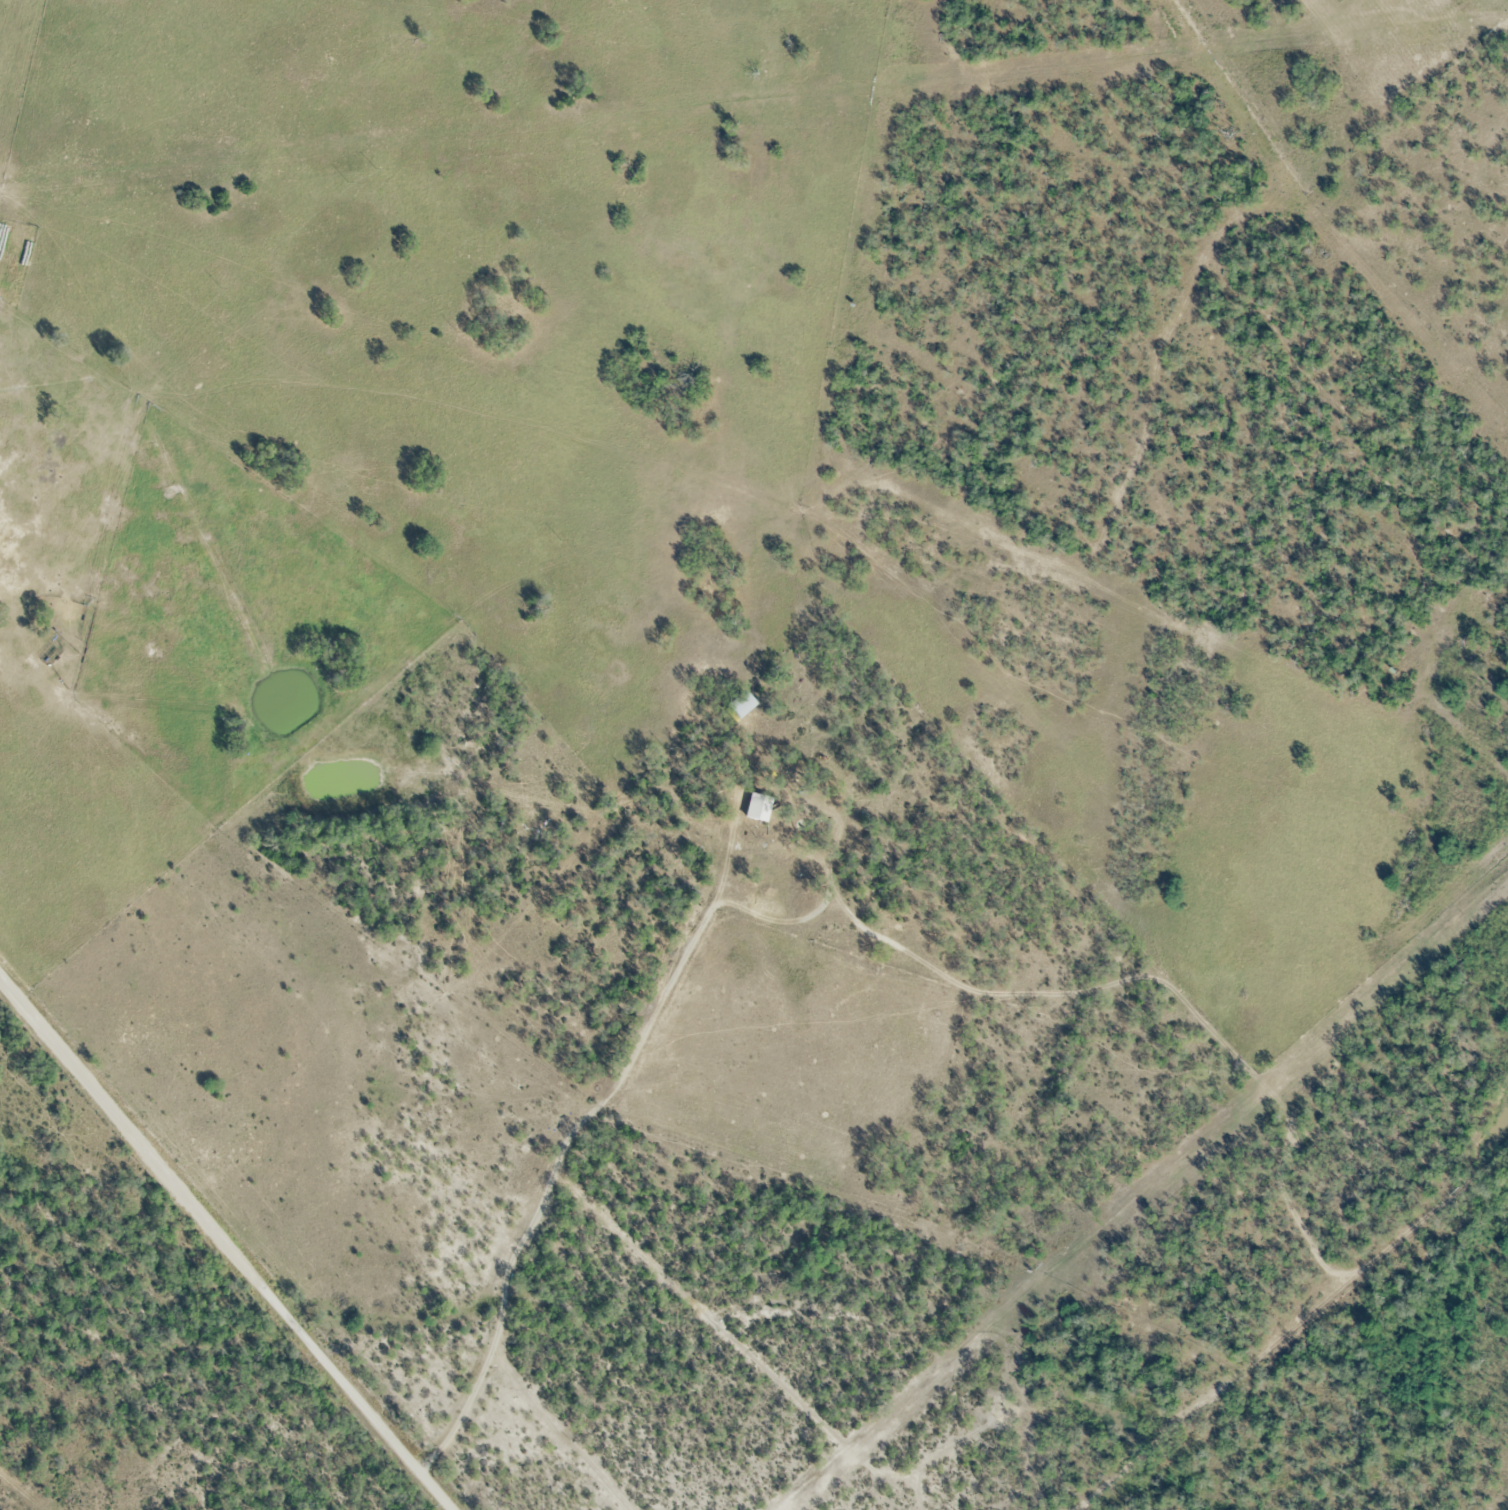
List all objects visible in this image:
building: (735, 705)
building: (752, 809)
road: (614, 1091)
road: (225, 1246)

